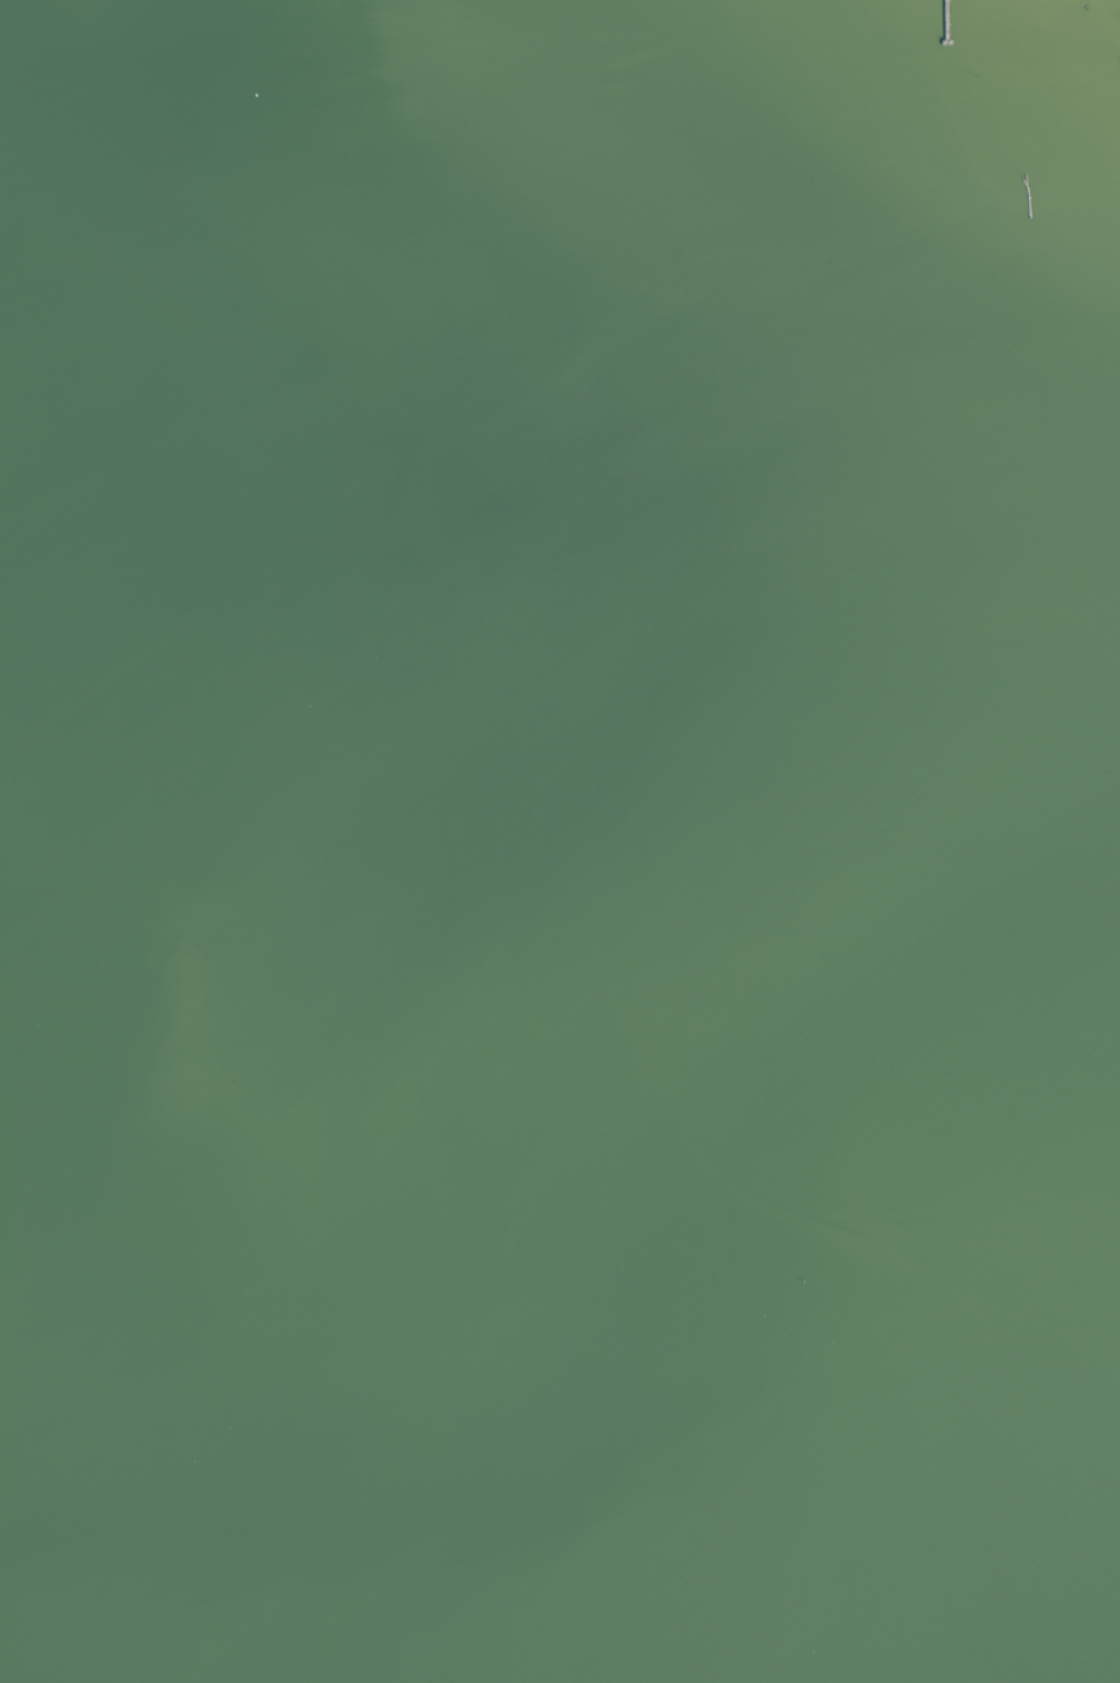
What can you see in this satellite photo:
river: (517, 1349)

